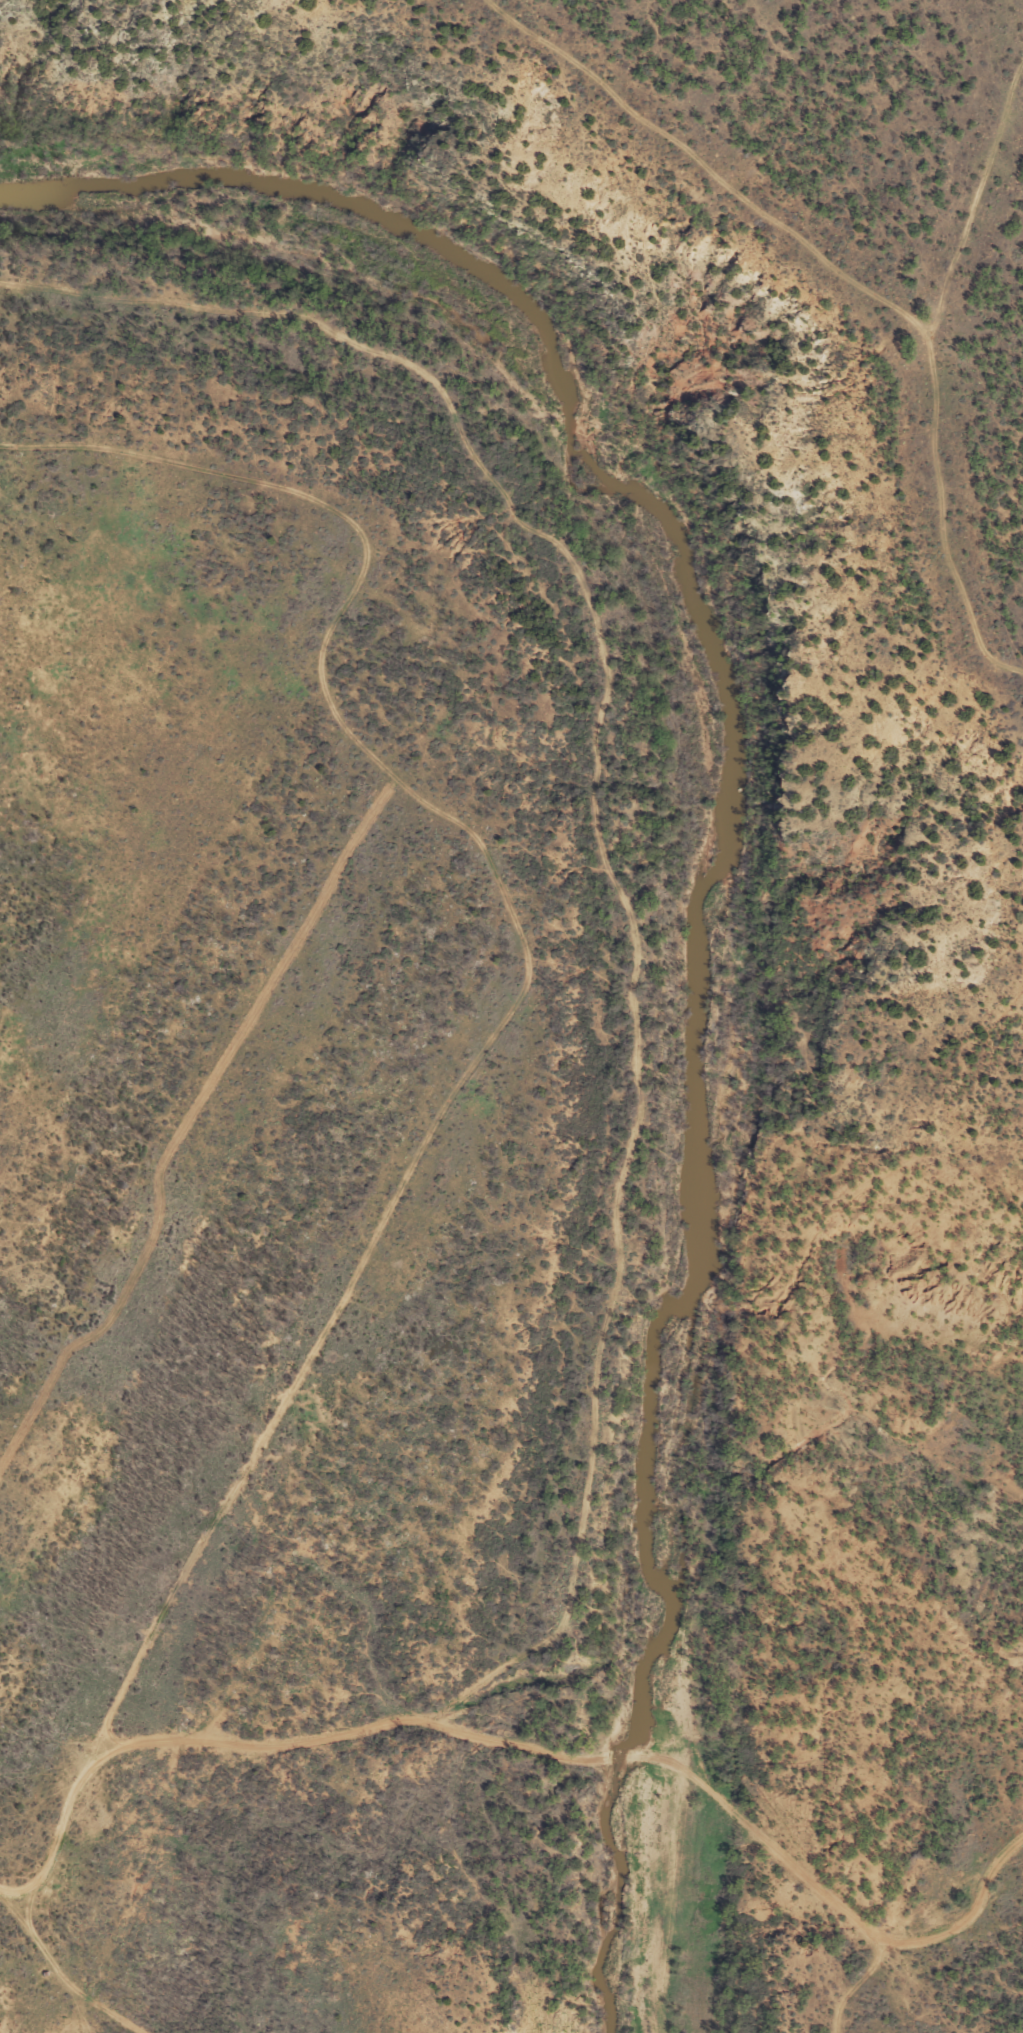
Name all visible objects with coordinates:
river: (394, 226)
road: (958, 384)
river: (687, 1275)

